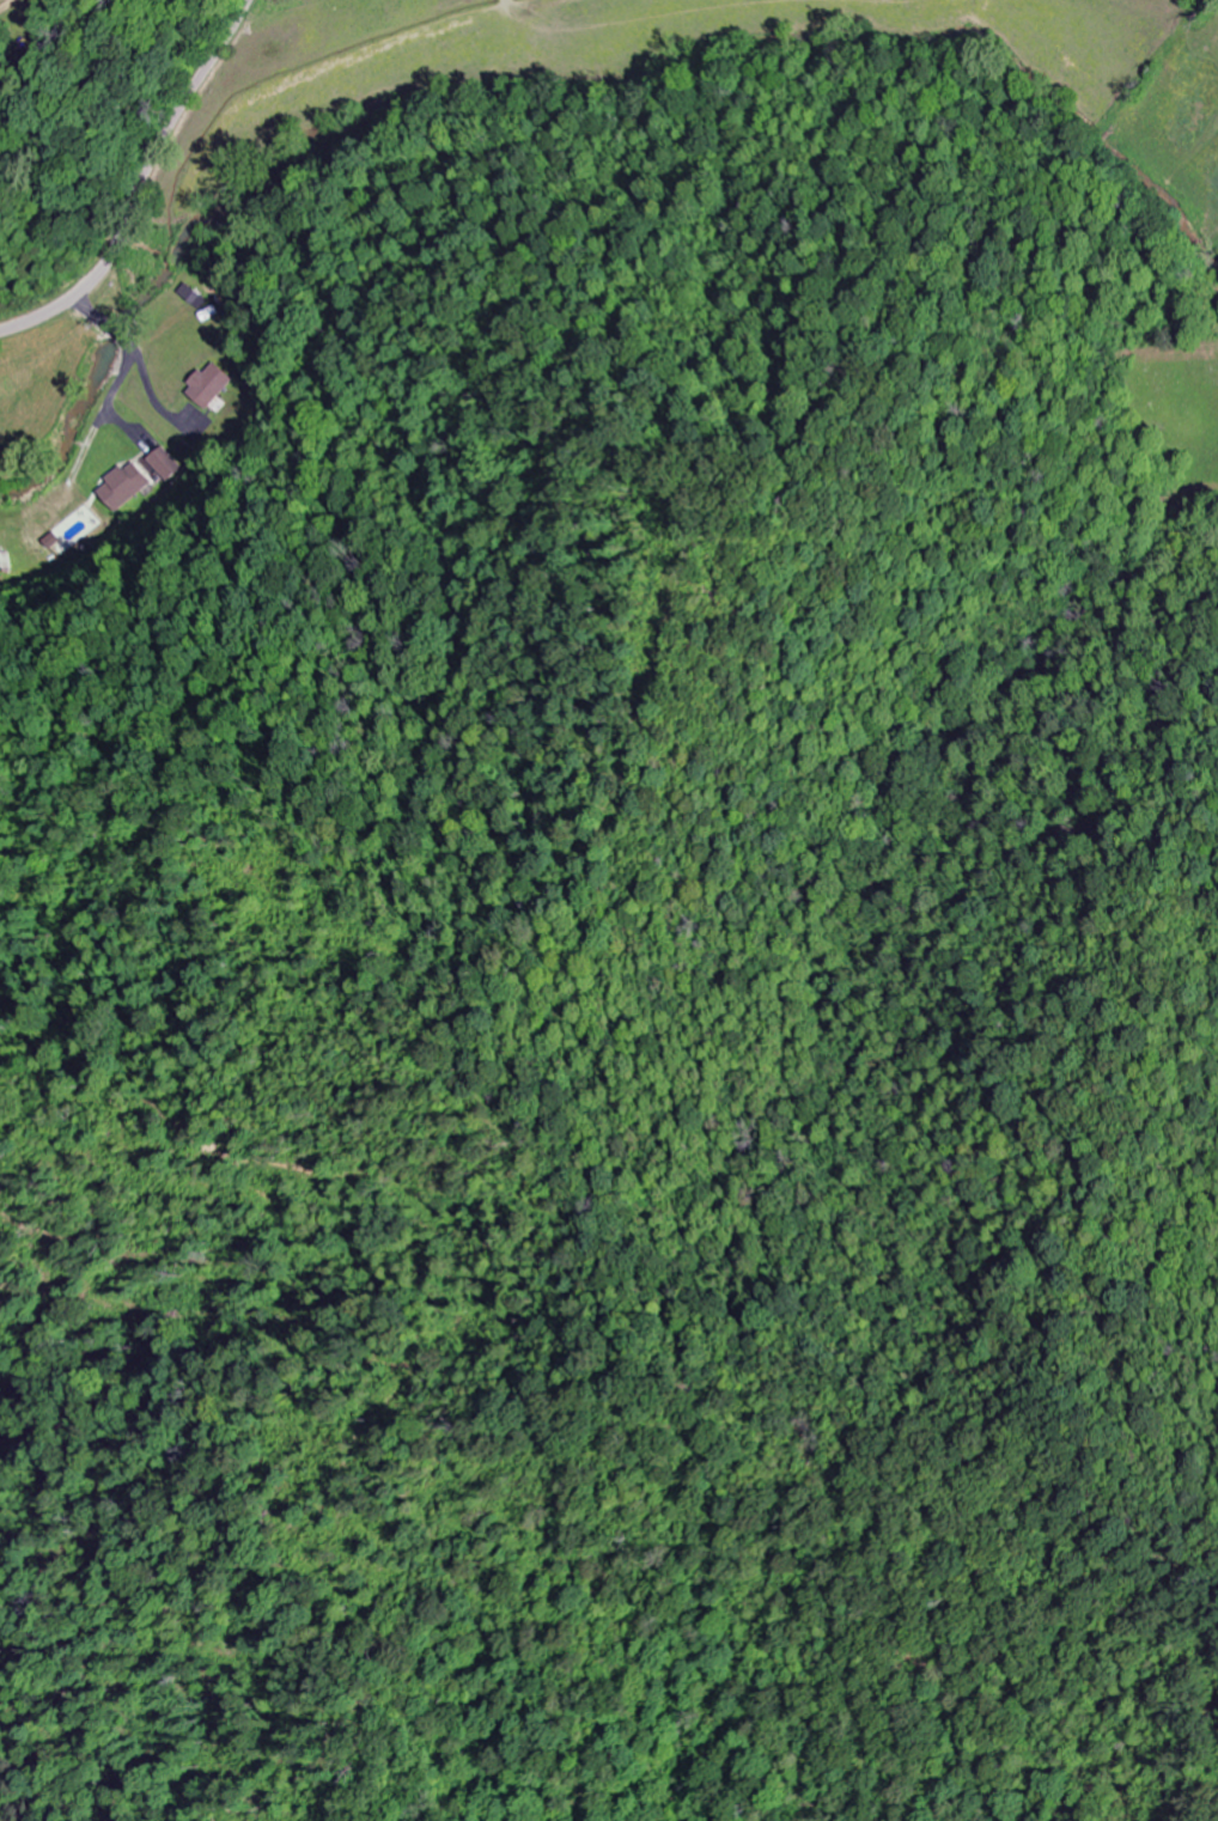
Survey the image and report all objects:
road: (142, 187)
building: (209, 384)
building: (159, 464)
building: (120, 486)

